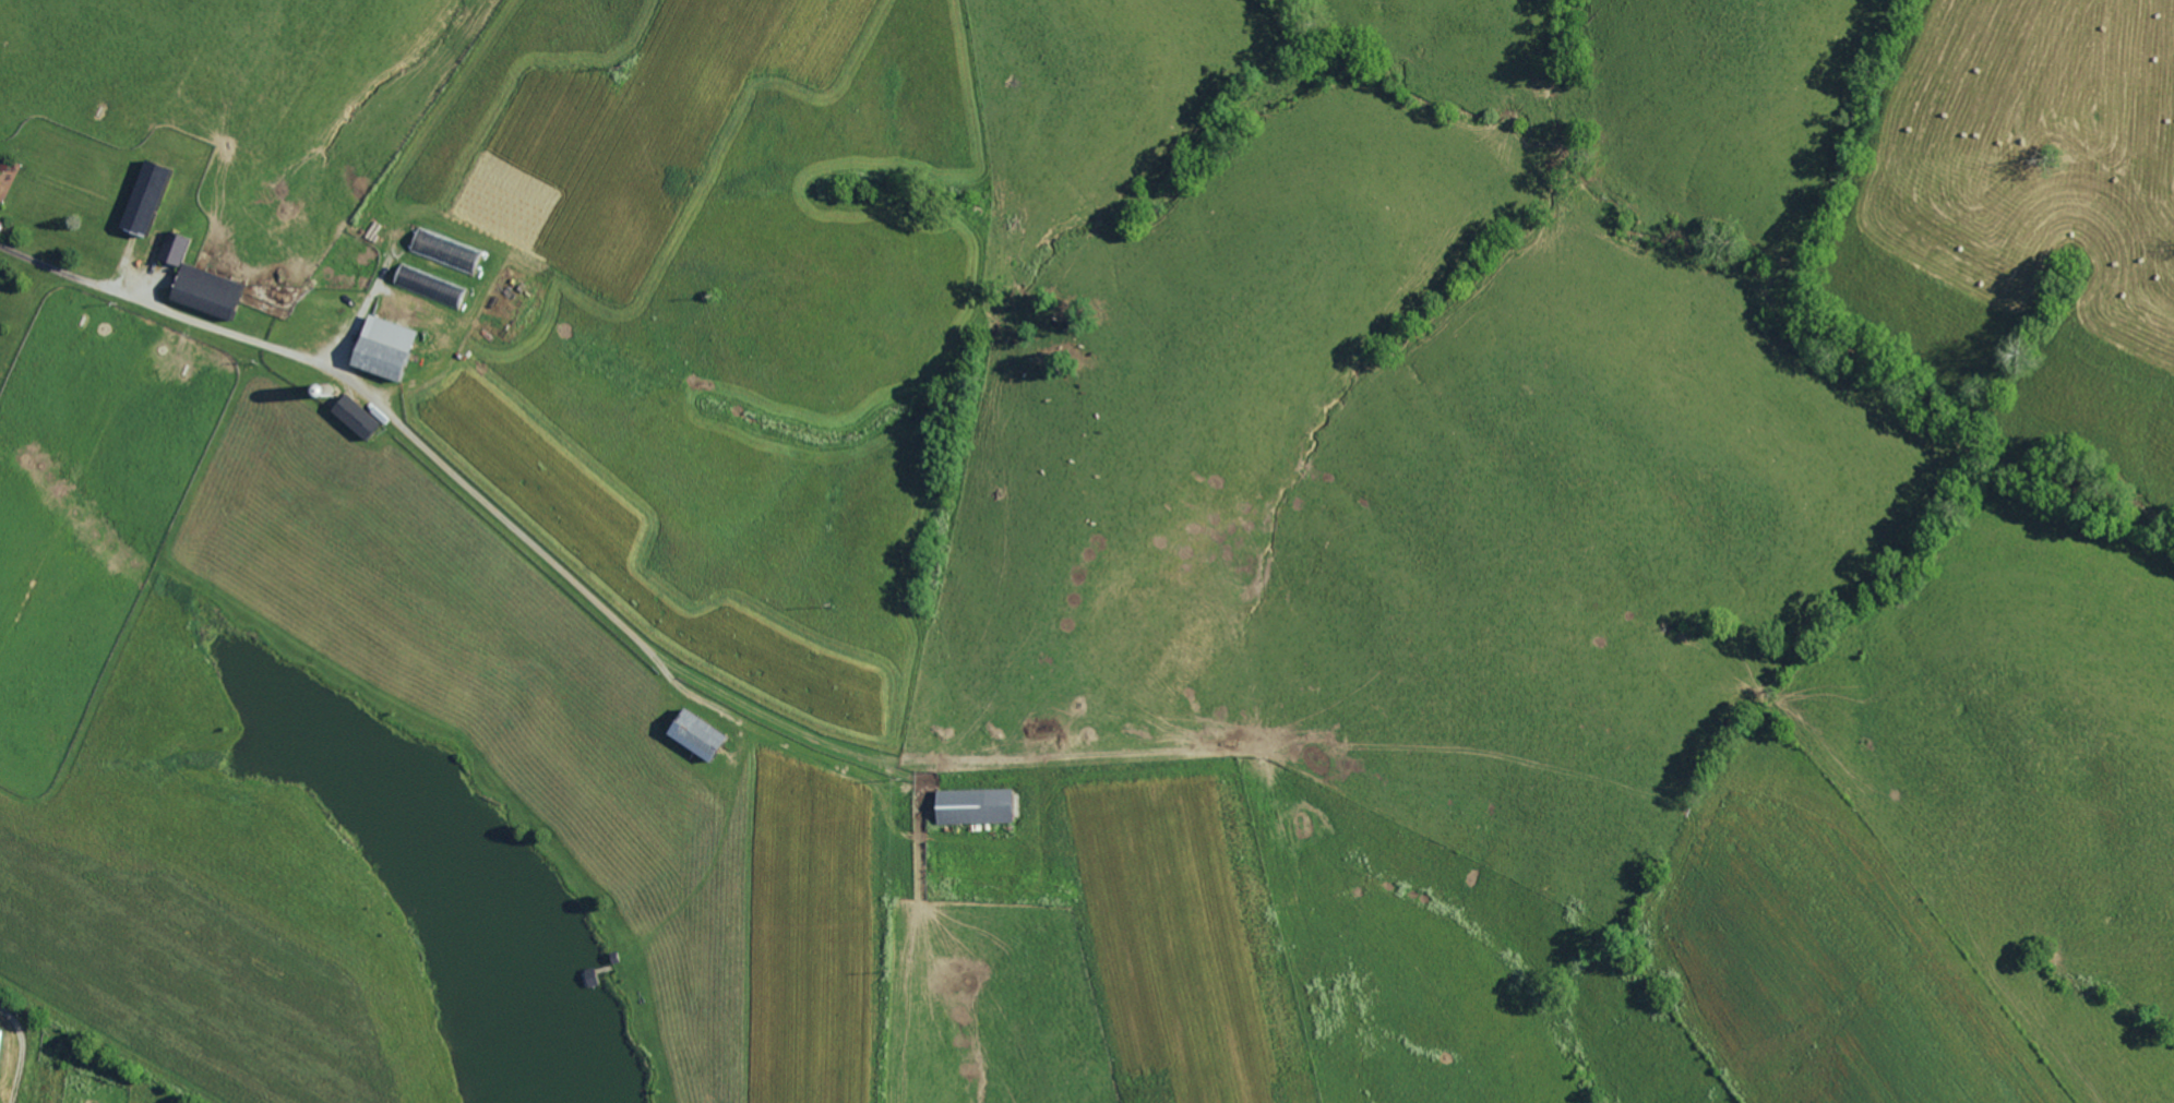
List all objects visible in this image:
building: (141, 196)
building: (3, 227)
building: (174, 249)
building: (430, 284)
building: (202, 290)
road: (240, 333)
building: (391, 347)
building: (351, 416)
building: (703, 733)
building: (970, 806)
building: (1, 1036)

